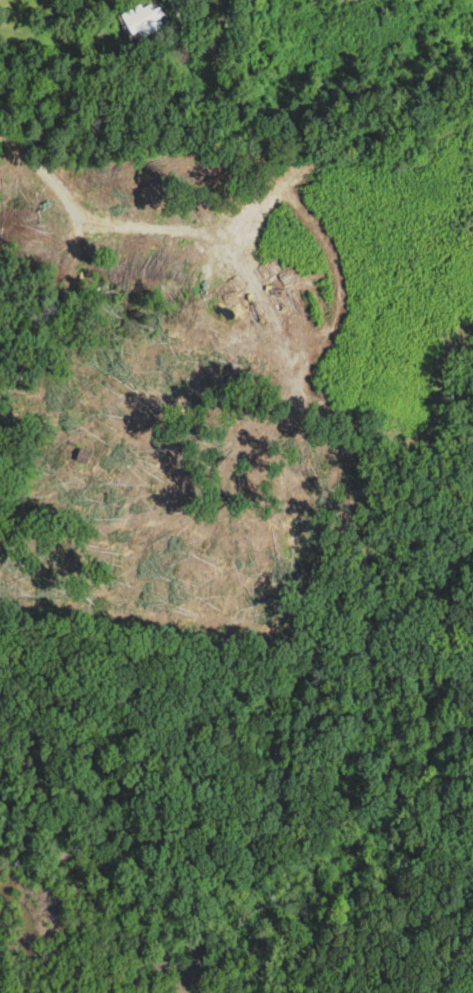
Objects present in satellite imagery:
building: (142, 20)

